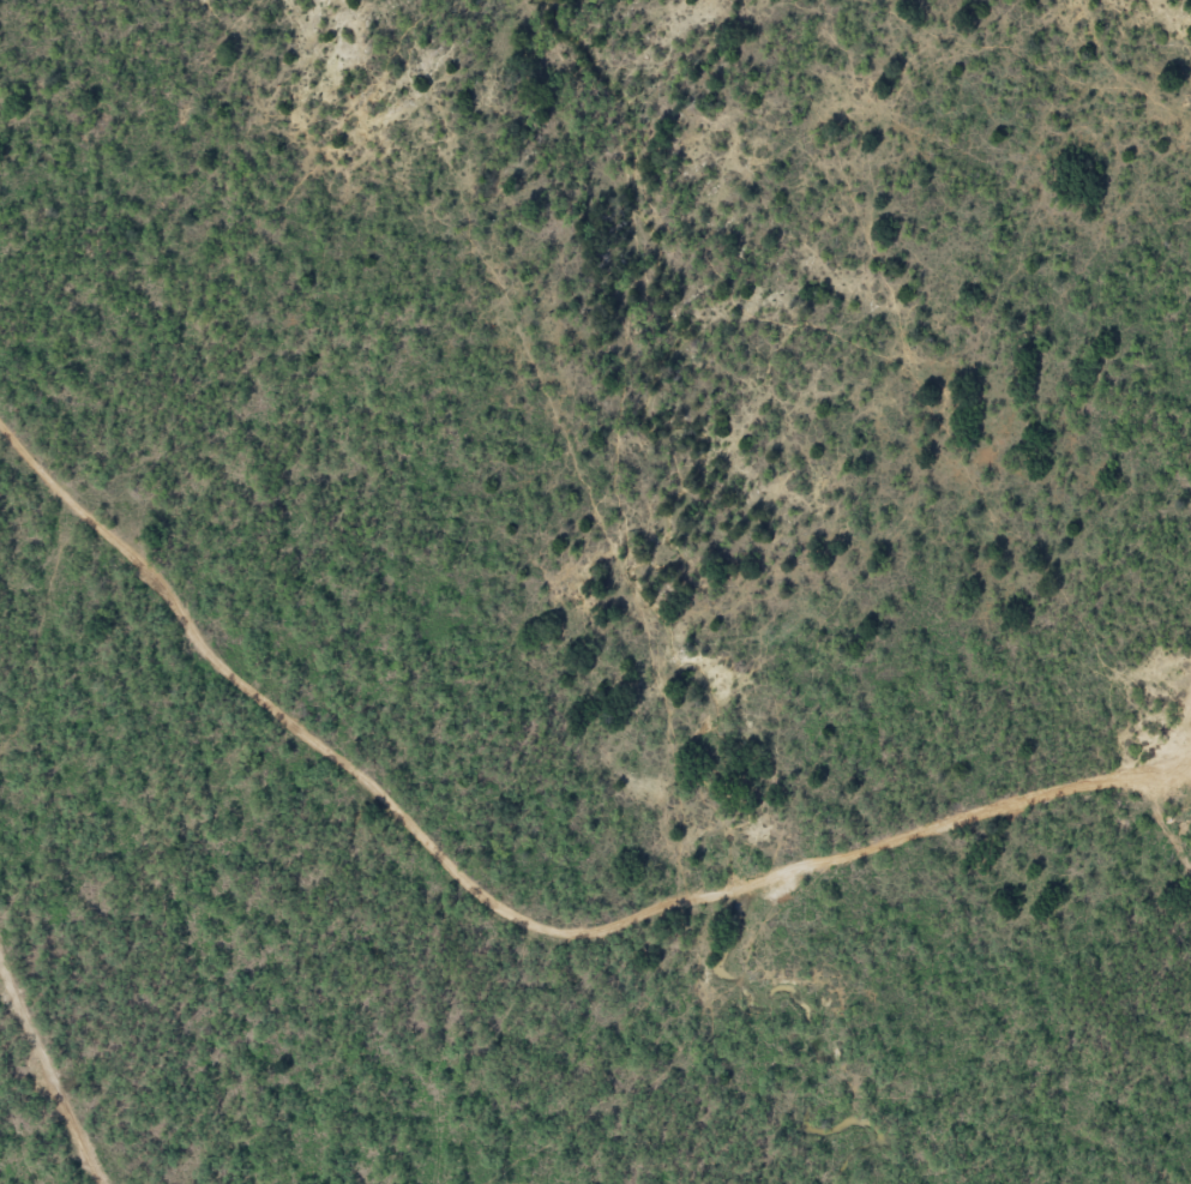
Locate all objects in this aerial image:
road: (493, 909)

